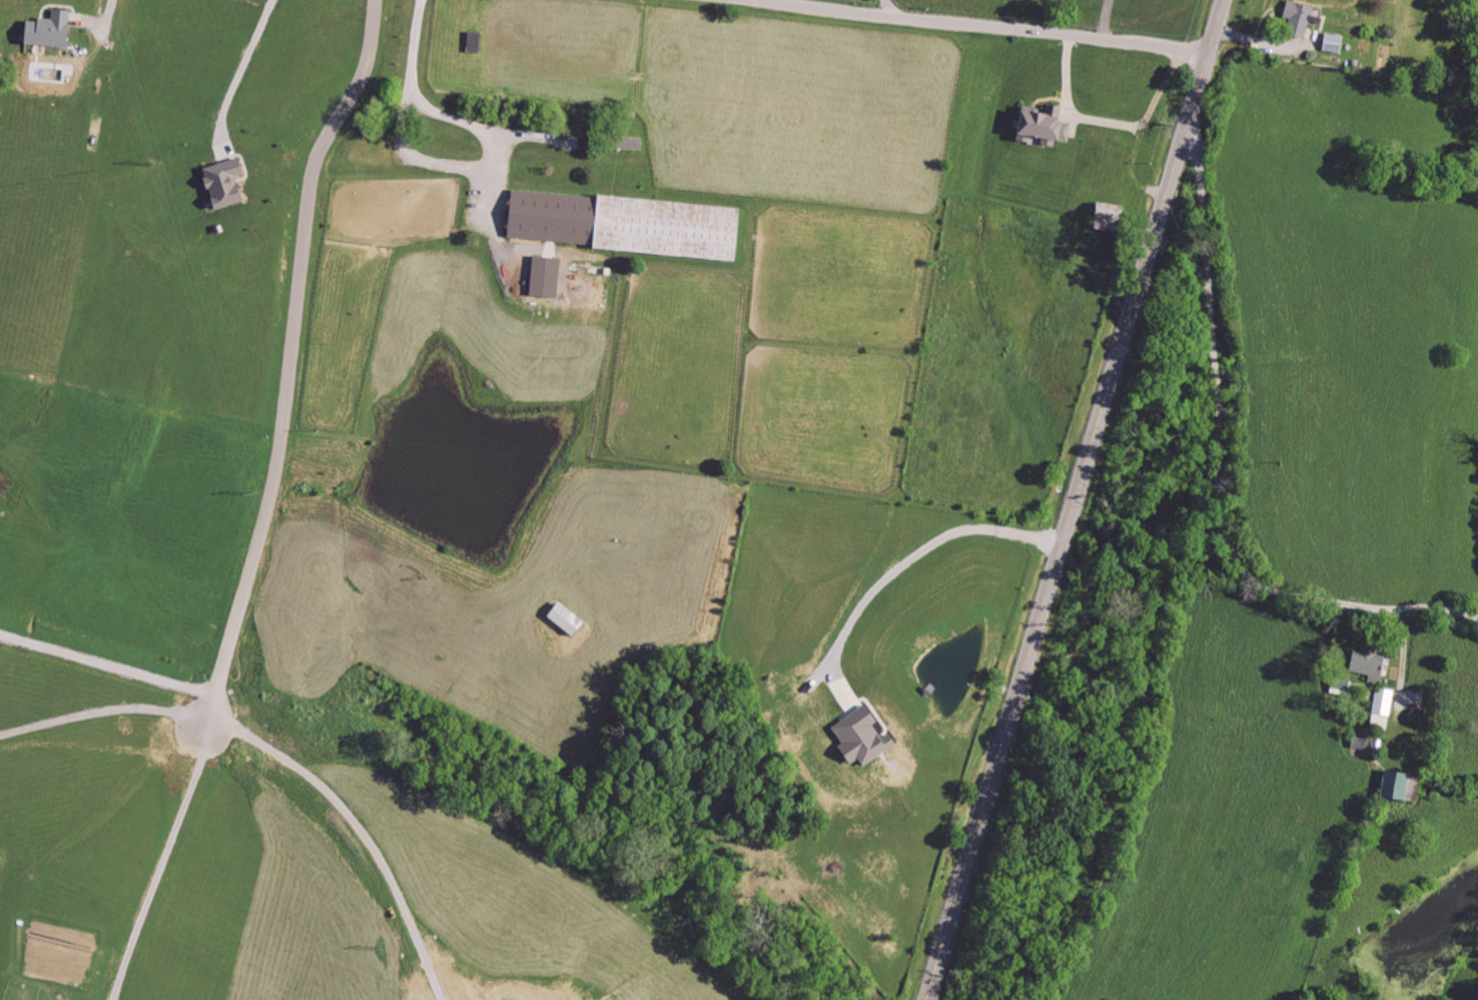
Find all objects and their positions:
road: (888, 8)
building: (1295, 18)
road: (1106, 19)
road: (978, 26)
building: (47, 30)
road: (376, 34)
building: (472, 42)
building: (1331, 43)
road: (417, 50)
road: (241, 75)
road: (1112, 123)
building: (1040, 124)
building: (616, 141)
road: (481, 165)
road: (1140, 167)
building: (220, 183)
building: (629, 226)
road: (289, 396)
road: (1223, 467)
road: (1079, 500)
road: (914, 559)
building: (564, 616)
road: (1405, 657)
building: (1364, 664)
road: (109, 667)
building: (1379, 708)
building: (858, 738)
building: (1396, 787)
road: (362, 829)
road: (166, 865)

